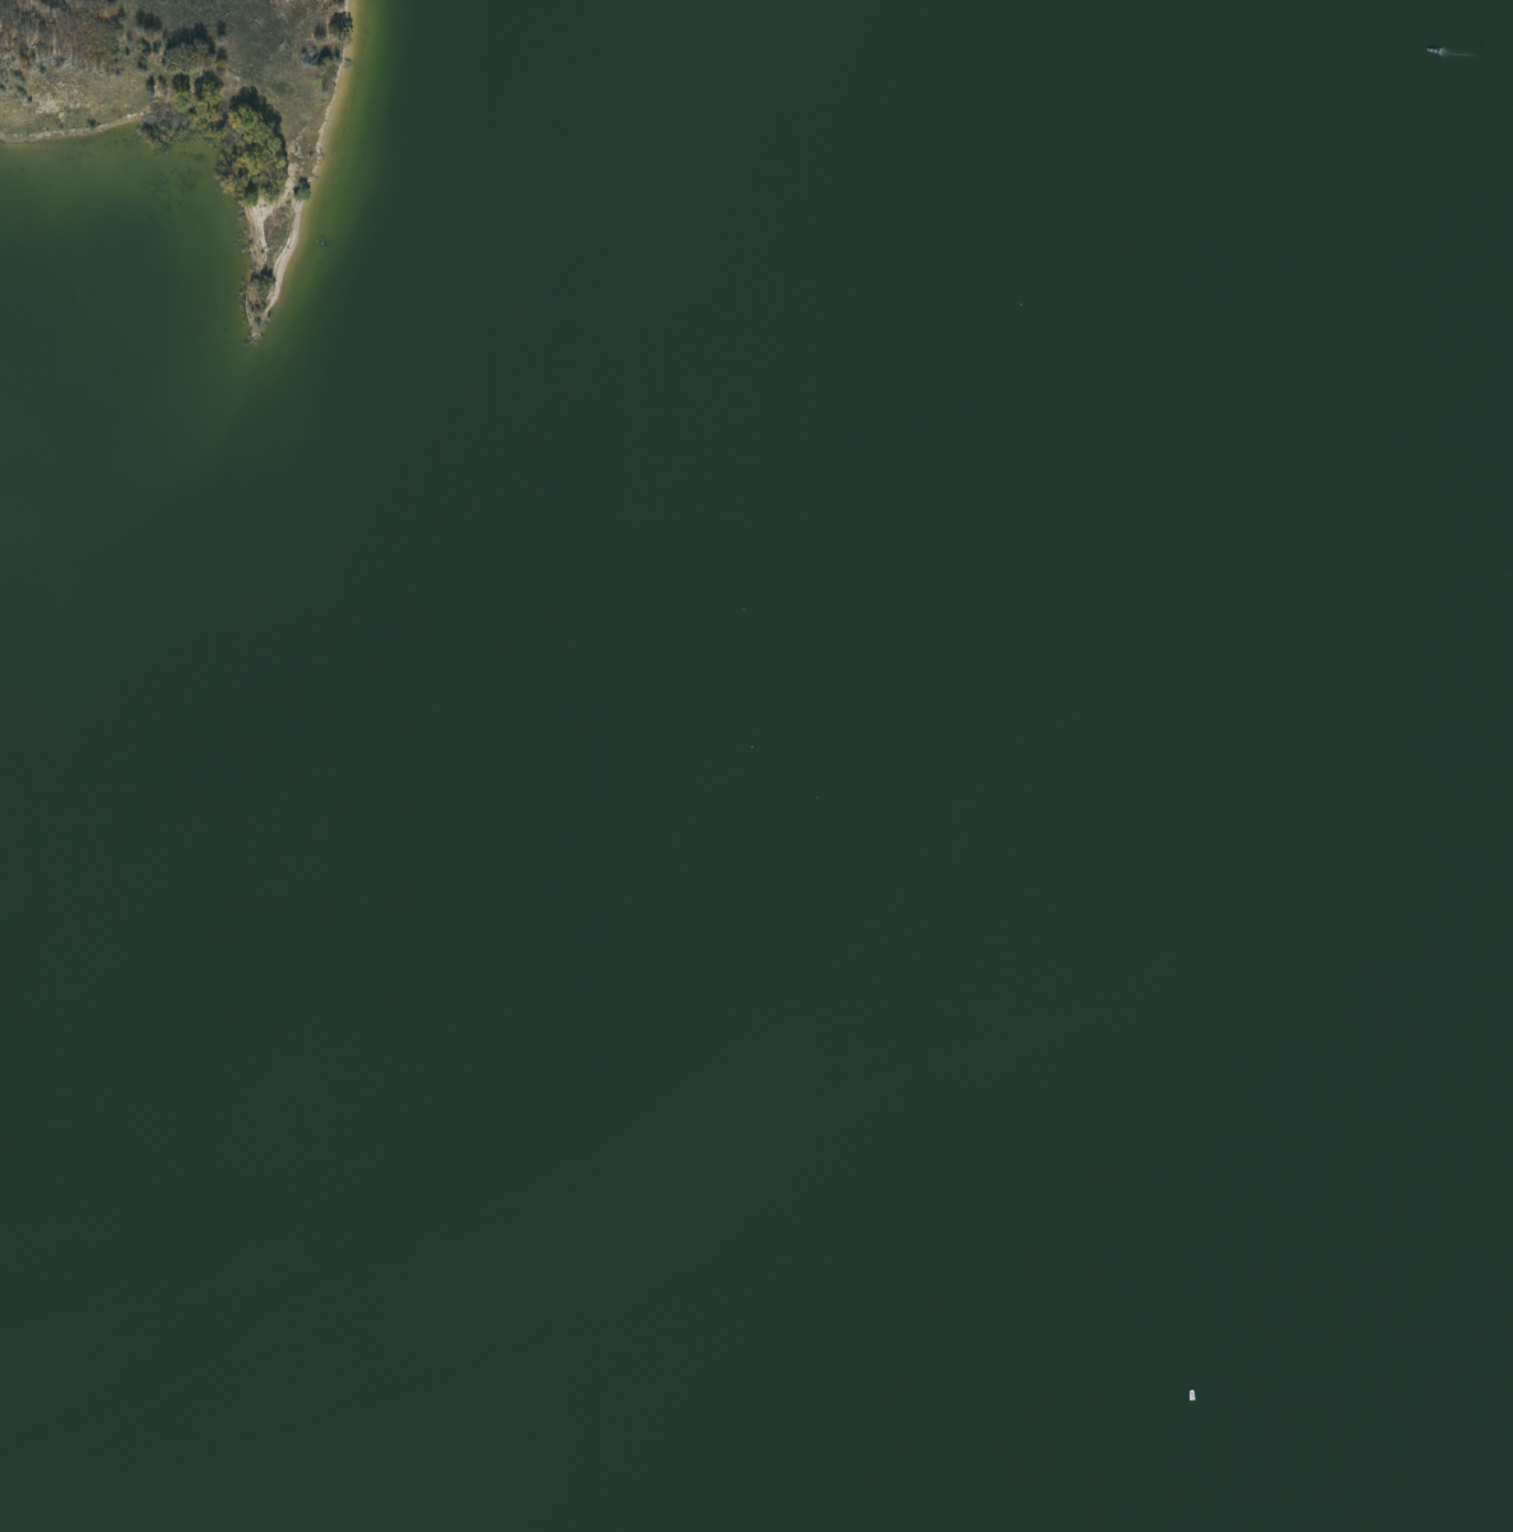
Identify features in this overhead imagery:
park: (196, 91)

